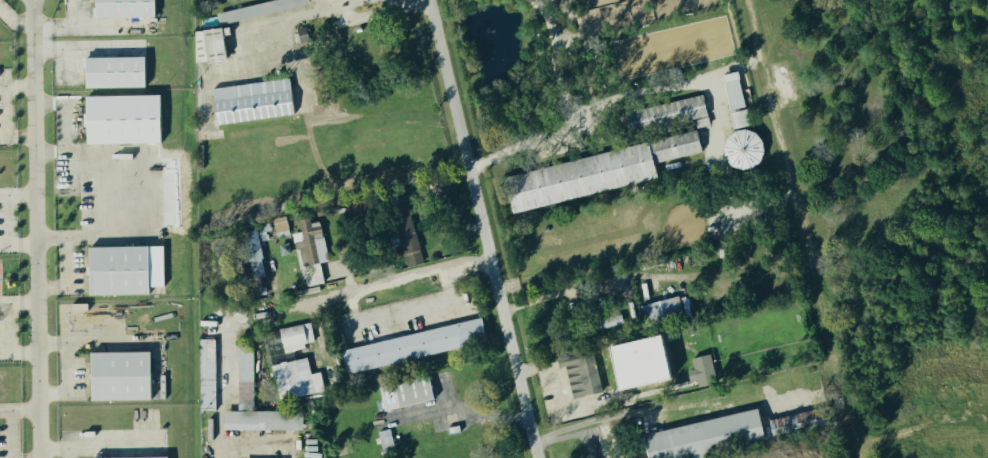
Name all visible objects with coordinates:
building: (123, 8)
building: (255, 9)
road: (286, 11)
building: (302, 33)
road: (554, 63)
building: (114, 71)
road: (17, 83)
building: (733, 90)
building: (252, 100)
building: (666, 113)
building: (123, 117)
building: (740, 117)
building: (701, 121)
road: (5, 124)
road: (520, 148)
building: (743, 148)
road: (51, 152)
building: (595, 171)
road: (105, 186)
building: (364, 206)
building: (280, 225)
road: (36, 228)
road: (484, 229)
building: (406, 237)
building: (255, 247)
building: (284, 248)
building: (311, 250)
building: (119, 269)
road: (64, 274)
road: (354, 282)
road: (562, 295)
building: (661, 310)
building: (599, 323)
building: (296, 336)
building: (413, 344)
building: (640, 361)
building: (702, 370)
building: (581, 371)
building: (206, 374)
building: (120, 375)
building: (245, 377)
building: (296, 378)
road: (220, 391)
building: (405, 391)
road: (19, 406)
road: (492, 413)
building: (798, 420)
road: (10, 432)
road: (570, 432)
building: (706, 436)
building: (385, 438)
road: (262, 441)
road: (100, 443)
road: (70, 451)
building: (133, 457)

